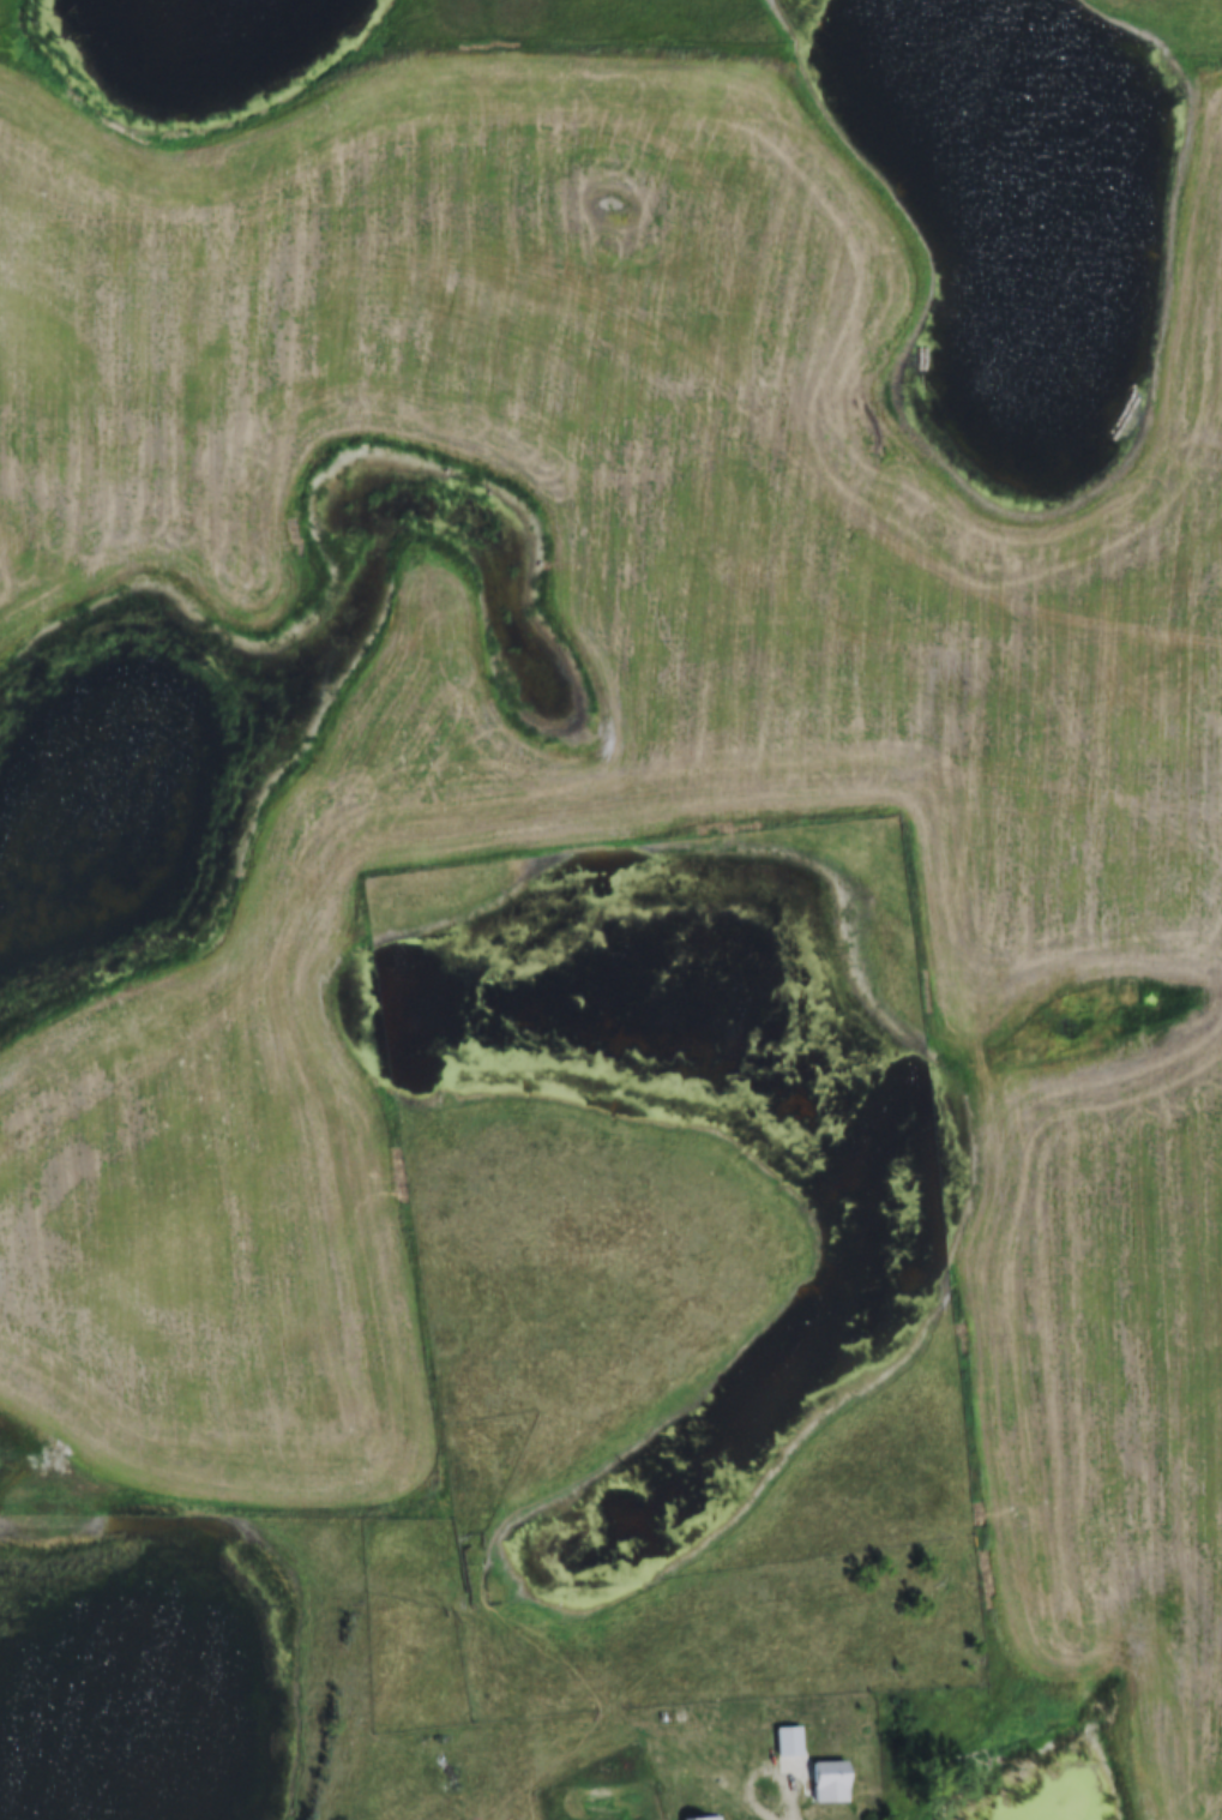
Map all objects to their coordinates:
building: (789, 1742)
road: (764, 1773)
building: (830, 1783)
building: (702, 1819)

